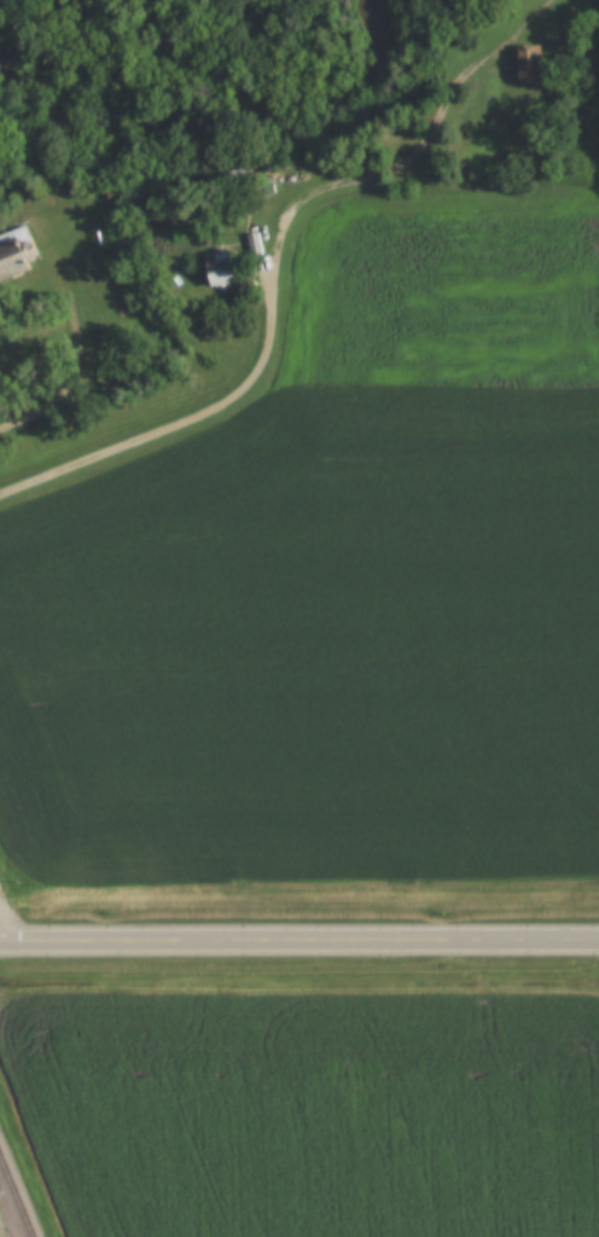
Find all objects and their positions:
building: (525, 65)
road: (426, 130)
building: (252, 243)
building: (8, 257)
building: (215, 272)
road: (74, 361)
road: (203, 408)
road: (6, 922)
road: (298, 937)
railway: (16, 1198)

